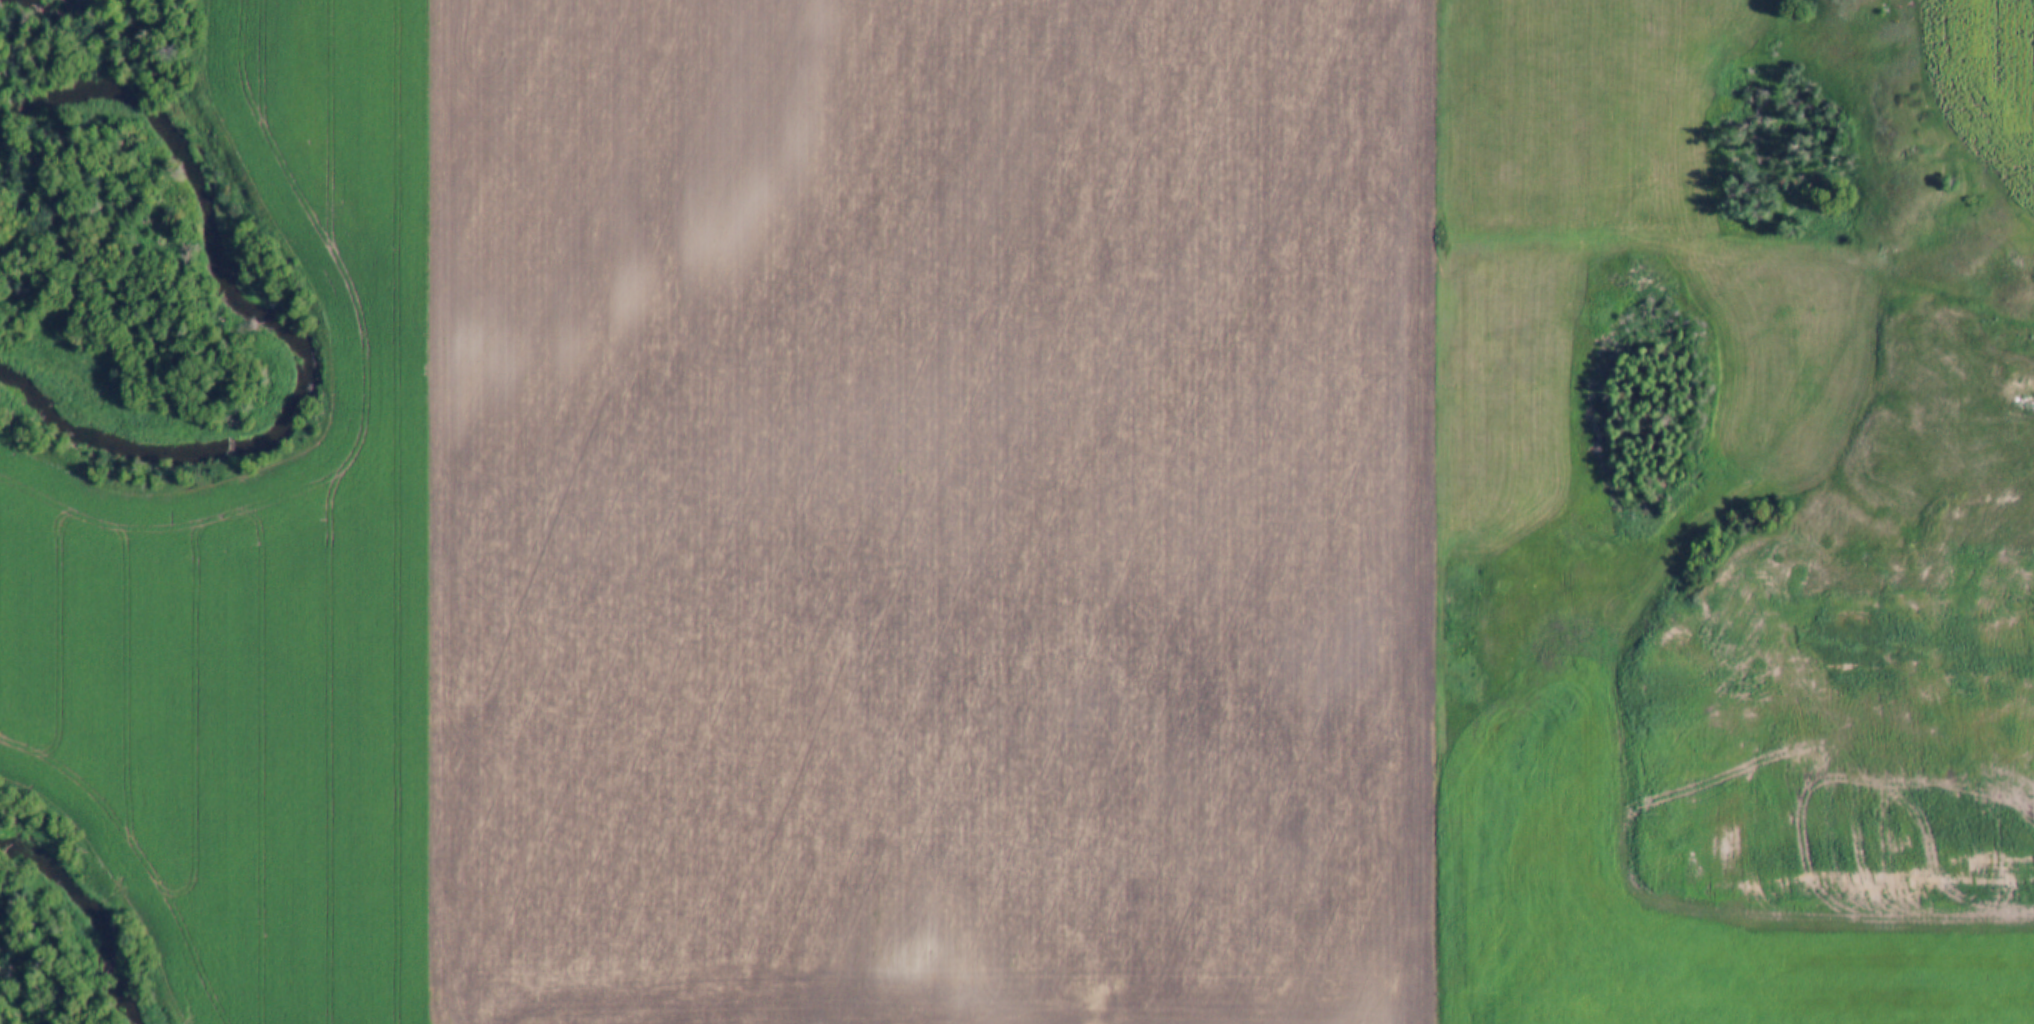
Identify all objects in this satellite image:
quarry: (1855, 625)
road: (1867, 799)

